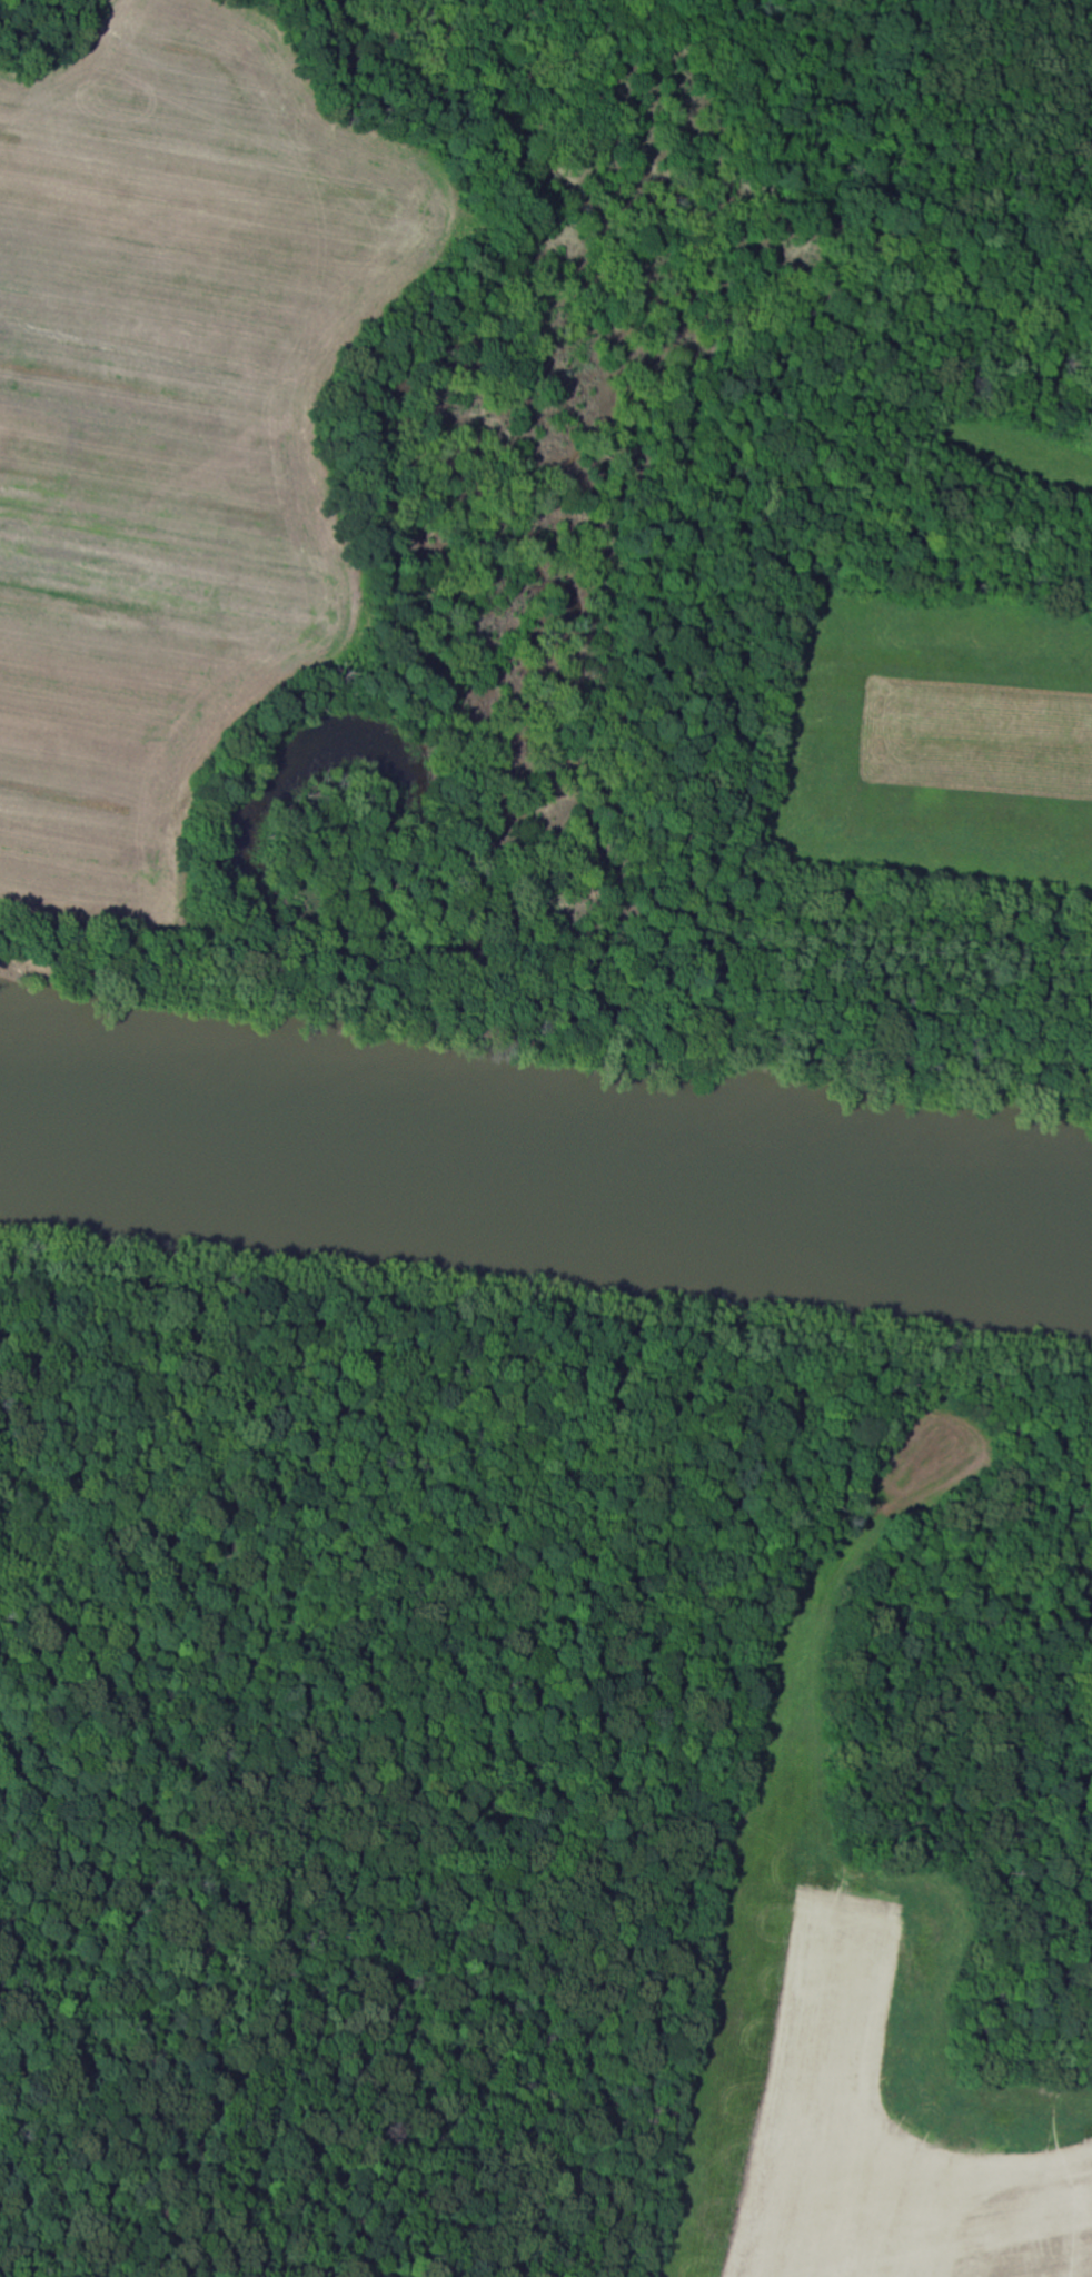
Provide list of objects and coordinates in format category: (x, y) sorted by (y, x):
river: (546, 1149)

